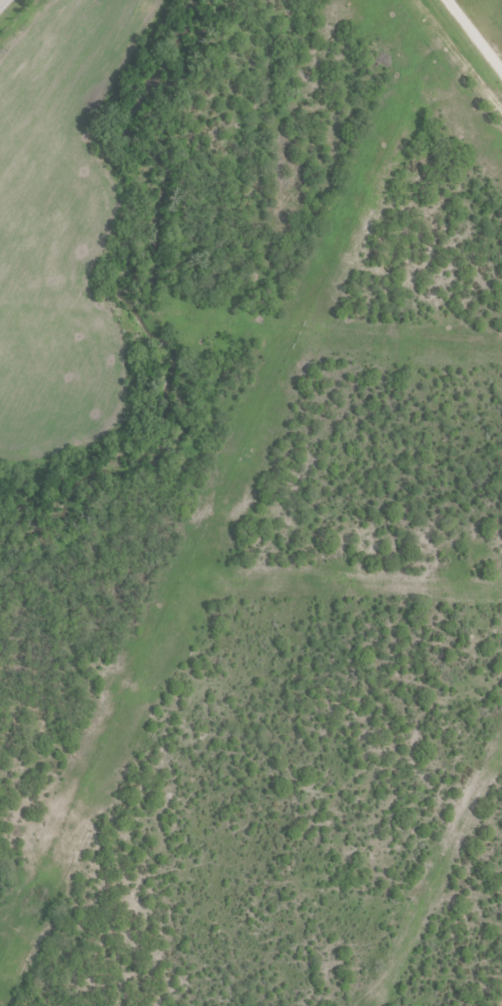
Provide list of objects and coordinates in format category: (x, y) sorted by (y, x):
road: (2, 2)
road: (476, 32)
road: (457, 57)

